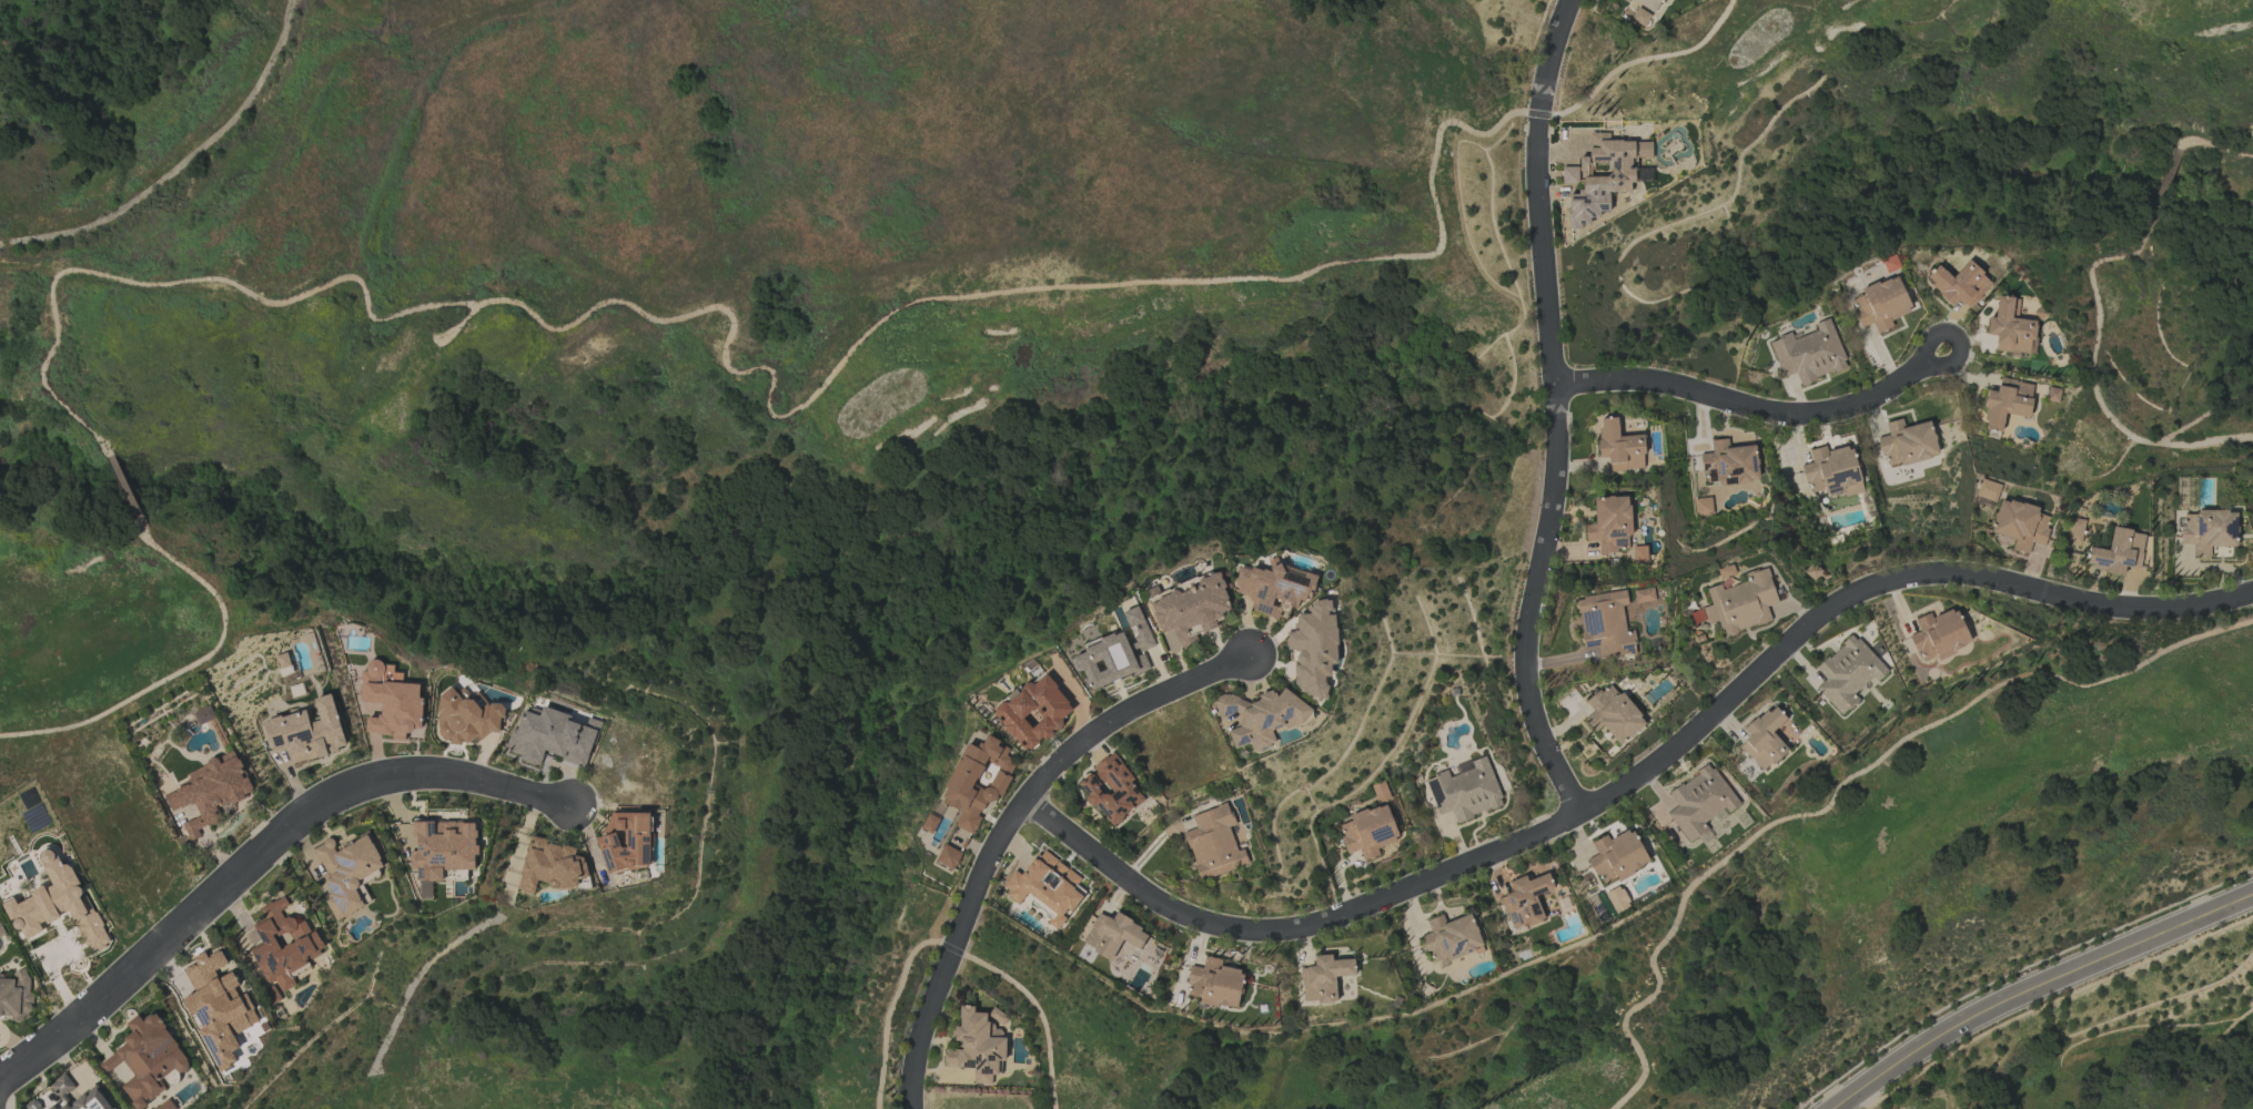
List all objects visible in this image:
building: (1651, 4)
building: (1639, 17)
road: (1639, 59)
road: (184, 166)
building: (1602, 175)
park: (2009, 185)
building: (1959, 284)
road: (2093, 301)
building: (1881, 304)
building: (2010, 327)
building: (1809, 353)
building: (2007, 403)
road: (1558, 411)
road: (1759, 416)
building: (1907, 442)
building: (1619, 446)
park: (704, 452)
building: (1729, 462)
building: (1832, 471)
building: (1989, 491)
building: (1703, 506)
building: (1610, 523)
building: (2020, 525)
building: (2074, 530)
building: (2207, 530)
building: (2118, 551)
building: (1639, 553)
building: (1273, 588)
building: (1643, 594)
building: (1741, 602)
building: (1189, 610)
building: (1605, 624)
building: (1939, 634)
building: (1313, 648)
building: (1115, 653)
building: (283, 663)
building: (1847, 673)
building: (392, 701)
building: (1033, 711)
building: (1613, 713)
building: (203, 715)
building: (466, 716)
building: (1260, 716)
building: (307, 732)
building: (550, 737)
building: (1764, 739)
road: (1638, 776)
building: (978, 781)
building: (1111, 788)
building: (1465, 790)
building: (210, 791)
building: (1699, 803)
road: (1007, 824)
building: (1368, 832)
building: (626, 841)
building: (1213, 843)
building: (442, 851)
building: (948, 856)
building: (1617, 856)
road: (265, 864)
building: (550, 865)
building: (346, 872)
building: (1047, 887)
park: (1815, 893)
building: (1525, 899)
building: (1617, 899)
building: (57, 905)
building: (1113, 935)
building: (1451, 938)
building: (283, 945)
building: (1324, 978)
building: (1214, 983)
road: (2035, 987)
building: (16, 996)
building: (218, 1006)
road: (14, 1045)
building: (976, 1046)
building: (147, 1059)
park: (600, 1061)
building: (62, 1091)
park: (1921, 1093)
building: (165, 1105)
building: (31, 1106)

